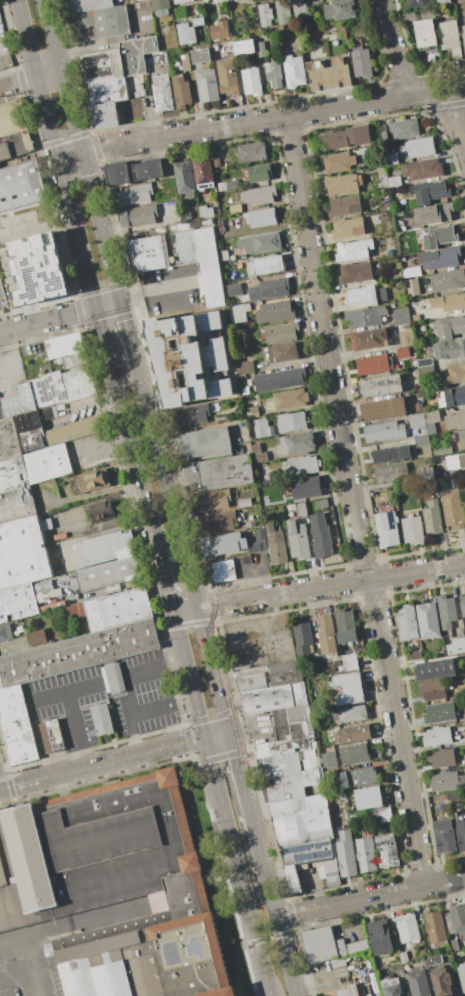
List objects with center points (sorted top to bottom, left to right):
building: (181, 1)
building: (441, 1)
building: (416, 3)
building: (86, 5)
building: (161, 6)
building: (339, 10)
building: (282, 11)
building: (299, 11)
building: (265, 14)
building: (99, 23)
building: (220, 30)
building: (186, 33)
road: (53, 34)
building: (425, 34)
building: (463, 35)
road: (27, 38)
building: (450, 39)
building: (244, 48)
building: (261, 49)
building: (201, 56)
building: (117, 59)
building: (184, 61)
building: (360, 62)
building: (294, 71)
road: (49, 73)
building: (274, 74)
building: (327, 74)
building: (226, 76)
road: (410, 79)
building: (251, 81)
road: (18, 82)
building: (207, 85)
building: (105, 89)
building: (181, 91)
building: (162, 93)
road: (72, 109)
building: (103, 114)
building: (12, 117)
road: (47, 117)
road: (273, 118)
building: (404, 129)
building: (346, 137)
building: (15, 144)
building: (420, 147)
building: (364, 150)
building: (251, 152)
road: (70, 153)
building: (390, 159)
building: (338, 163)
building: (381, 170)
building: (422, 170)
building: (149, 171)
building: (203, 173)
building: (259, 173)
building: (118, 175)
building: (184, 178)
building: (394, 182)
building: (21, 185)
building: (232, 185)
building: (344, 185)
building: (222, 187)
building: (429, 192)
building: (139, 194)
building: (259, 195)
building: (344, 206)
building: (385, 207)
building: (236, 208)
building: (205, 212)
building: (435, 214)
building: (138, 216)
building: (186, 217)
building: (263, 218)
road: (101, 226)
building: (348, 228)
road: (77, 232)
building: (437, 237)
building: (261, 243)
building: (353, 250)
building: (164, 251)
building: (224, 255)
building: (439, 259)
building: (265, 265)
building: (209, 267)
building: (394, 272)
building: (411, 272)
building: (354, 273)
building: (448, 280)
building: (411, 286)
building: (268, 289)
building: (234, 290)
road: (156, 291)
building: (365, 295)
traffic signals: (121, 302)
building: (449, 302)
road: (108, 305)
traffic signals: (96, 309)
building: (275, 312)
building: (239, 313)
building: (365, 317)
building: (401, 317)
building: (414, 317)
road: (48, 321)
road: (1, 326)
building: (449, 327)
building: (279, 333)
road: (129, 334)
building: (405, 338)
building: (371, 339)
building: (67, 345)
road: (326, 347)
road: (218, 348)
road: (15, 349)
building: (449, 349)
building: (183, 351)
building: (283, 352)
building: (402, 353)
building: (75, 360)
building: (424, 362)
building: (373, 364)
building: (245, 367)
building: (455, 374)
building: (279, 379)
building: (381, 386)
building: (62, 387)
building: (425, 395)
building: (452, 397)
building: (287, 400)
building: (19, 402)
road: (92, 402)
building: (418, 408)
building: (382, 409)
building: (252, 412)
building: (47, 413)
building: (192, 415)
building: (417, 420)
building: (455, 420)
building: (431, 421)
building: (291, 422)
building: (262, 427)
road: (126, 430)
building: (383, 431)
building: (74, 432)
building: (423, 432)
building: (21, 436)
building: (460, 438)
building: (421, 441)
road: (102, 443)
building: (203, 444)
building: (297, 444)
building: (255, 448)
building: (441, 450)
building: (426, 452)
building: (390, 455)
building: (260, 457)
building: (455, 462)
building: (47, 464)
building: (303, 465)
building: (225, 472)
building: (425, 473)
building: (12, 474)
building: (390, 474)
building: (93, 479)
road: (168, 487)
building: (306, 487)
building: (213, 500)
building: (244, 503)
building: (321, 503)
building: (464, 503)
building: (16, 504)
building: (452, 508)
building: (301, 510)
building: (98, 511)
building: (432, 517)
building: (311, 518)
building: (218, 521)
building: (387, 529)
building: (413, 529)
building: (260, 534)
building: (298, 540)
building: (322, 541)
building: (222, 544)
building: (276, 544)
building: (105, 547)
building: (23, 552)
building: (246, 559)
building: (223, 570)
road: (417, 571)
building: (108, 575)
road: (165, 582)
road: (283, 593)
building: (17, 602)
building: (463, 608)
building: (117, 610)
building: (74, 611)
road: (185, 611)
building: (447, 611)
building: (428, 621)
building: (407, 622)
building: (346, 626)
building: (5, 632)
building: (35, 637)
building: (327, 638)
building: (302, 639)
building: (456, 646)
building: (78, 653)
building: (415, 656)
building: (349, 662)
building: (435, 669)
road: (143, 670)
road: (213, 670)
building: (285, 673)
road: (189, 675)
building: (112, 680)
building: (251, 681)
building: (349, 688)
building: (433, 690)
road: (62, 693)
road: (130, 695)
parking lot: (143, 696)
building: (273, 698)
road: (150, 711)
building: (440, 713)
building: (351, 714)
building: (101, 720)
building: (16, 728)
road: (76, 729)
traffic signals: (229, 731)
building: (289, 732)
road: (397, 732)
building: (49, 733)
road: (217, 734)
building: (354, 734)
road: (134, 735)
building: (437, 736)
traffic signals: (206, 737)
road: (171, 744)
building: (354, 754)
building: (441, 757)
building: (329, 759)
building: (309, 763)
building: (280, 766)
road: (68, 771)
building: (311, 776)
building: (358, 777)
building: (446, 780)
building: (284, 788)
building: (368, 797)
road: (248, 806)
building: (381, 814)
building: (301, 820)
building: (460, 834)
building: (444, 836)
road: (232, 838)
building: (386, 850)
building: (346, 854)
building: (366, 854)
building: (311, 862)
road: (443, 881)
building: (115, 888)
road: (272, 899)
road: (349, 901)
building: (458, 919)
road: (82, 921)
building: (407, 928)
building: (435, 929)
building: (379, 936)
road: (269, 938)
building: (327, 945)
building: (454, 945)
road: (286, 956)
building: (403, 957)
road: (22, 959)
building: (434, 960)
building: (337, 961)
building: (378, 962)
road: (264, 968)
parking lot: (30, 971)
building: (461, 975)
road: (13, 978)
building: (419, 980)
building: (442, 983)
building: (391, 987)
building: (339, 991)

